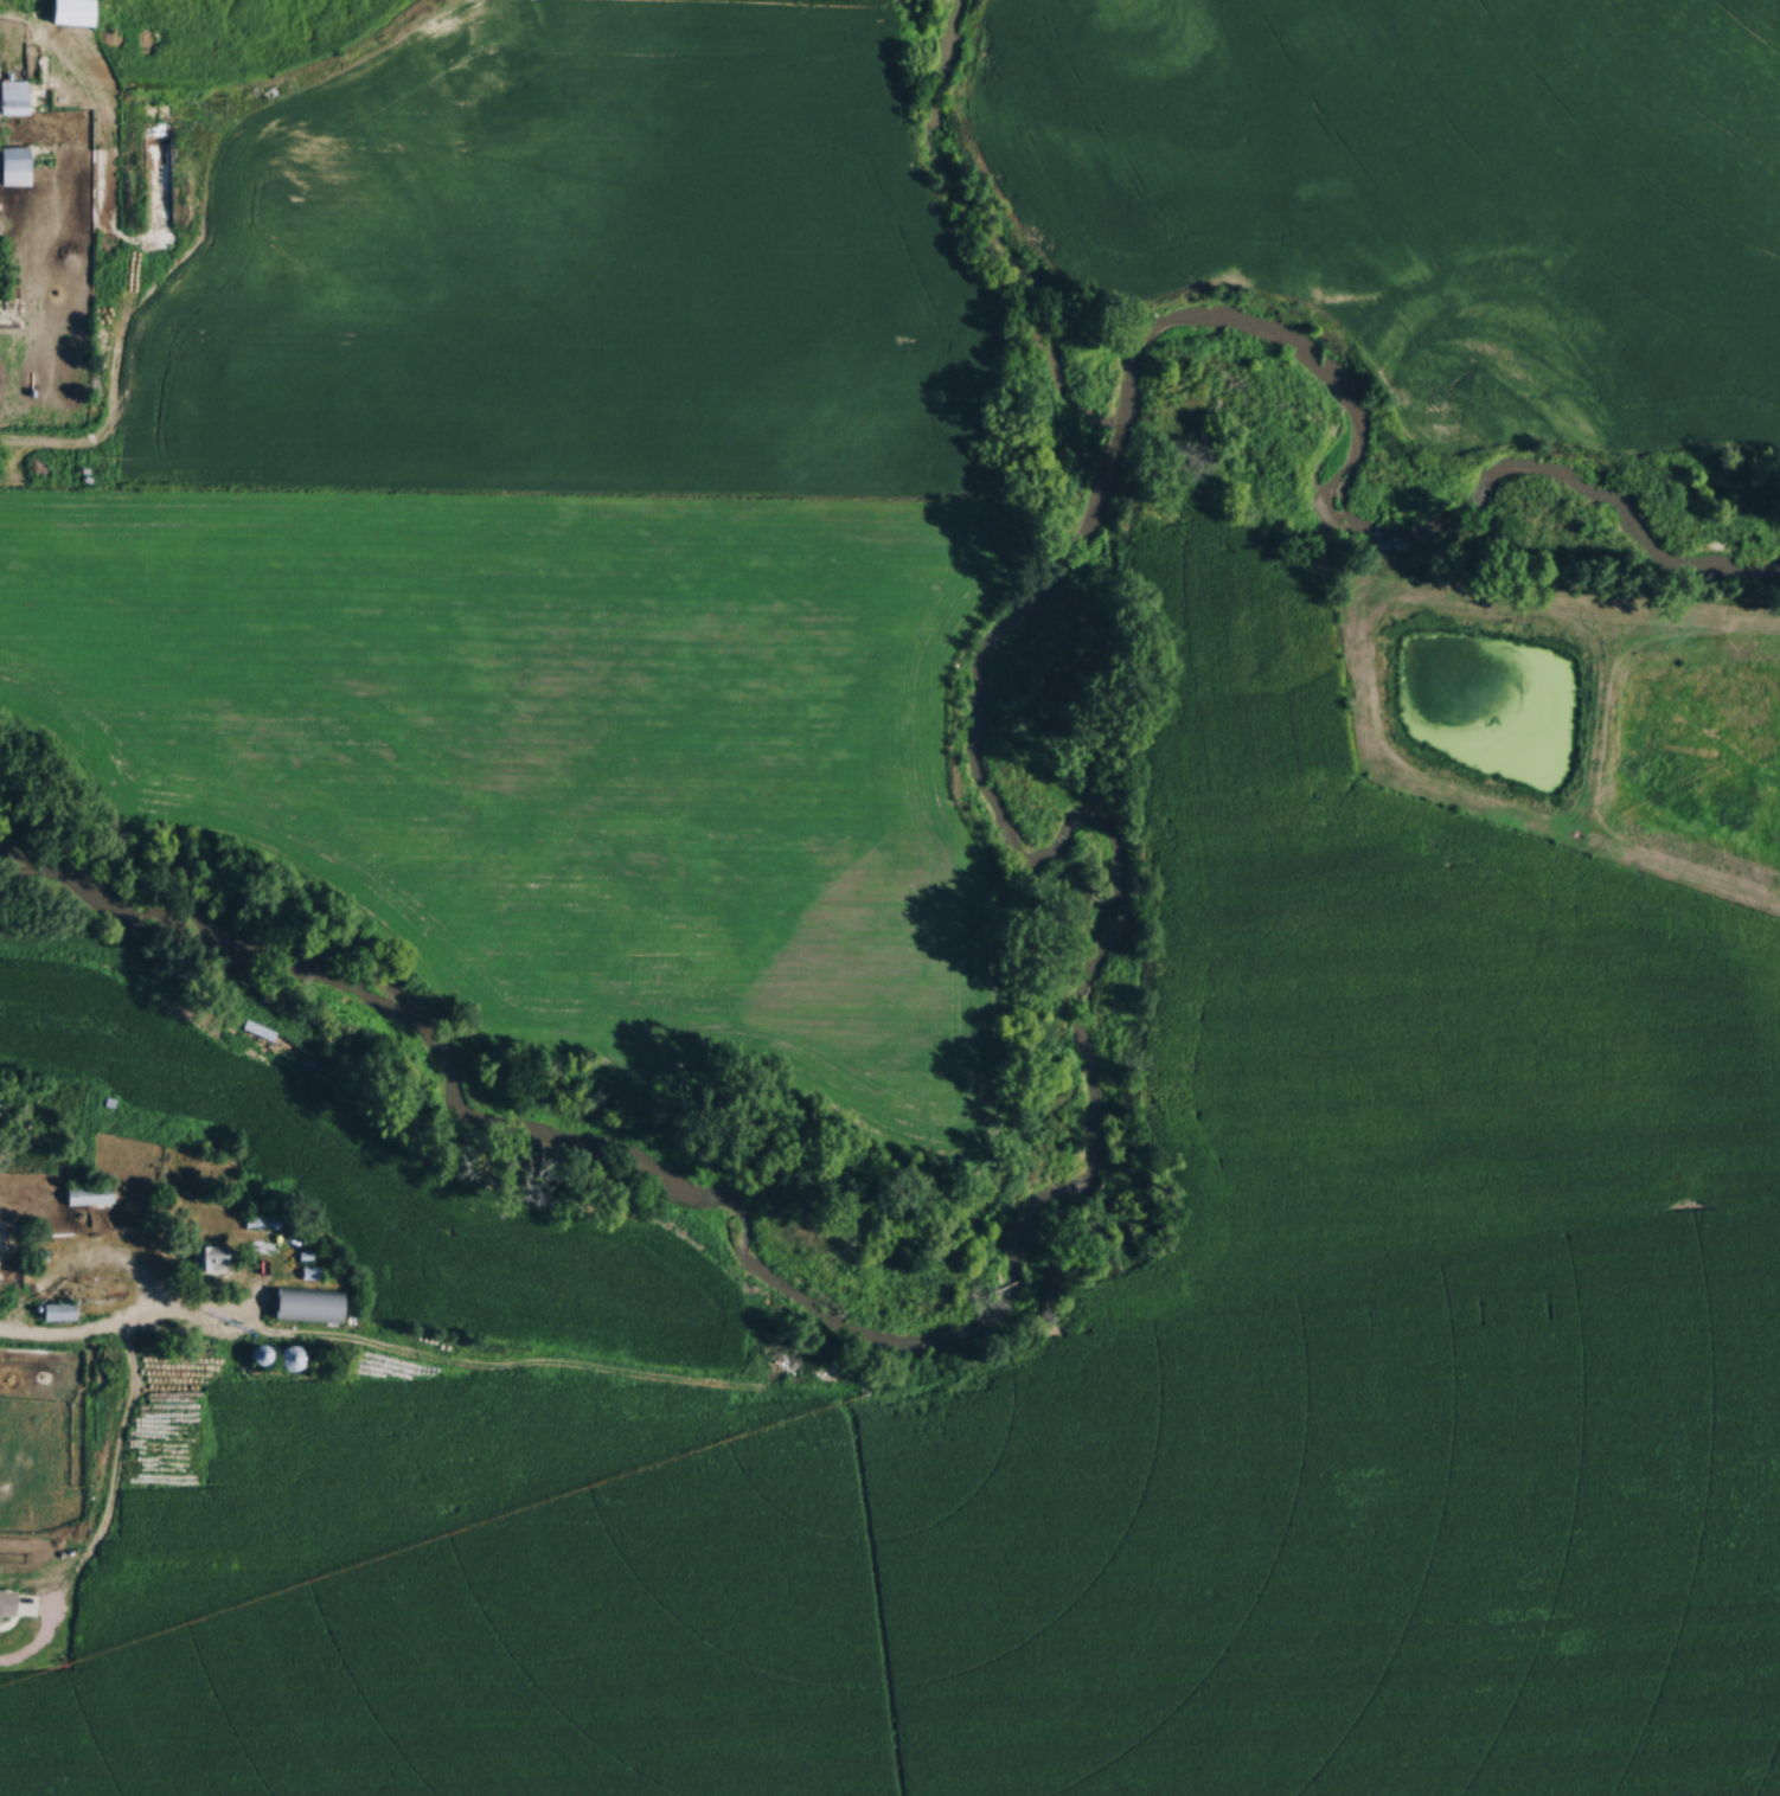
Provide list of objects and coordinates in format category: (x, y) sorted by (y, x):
building: (75, 13)
building: (13, 96)
building: (14, 166)
building: (87, 1194)
building: (258, 1220)
building: (207, 1258)
building: (307, 1272)
building: (305, 1304)
building: (57, 1310)
road: (115, 1339)

